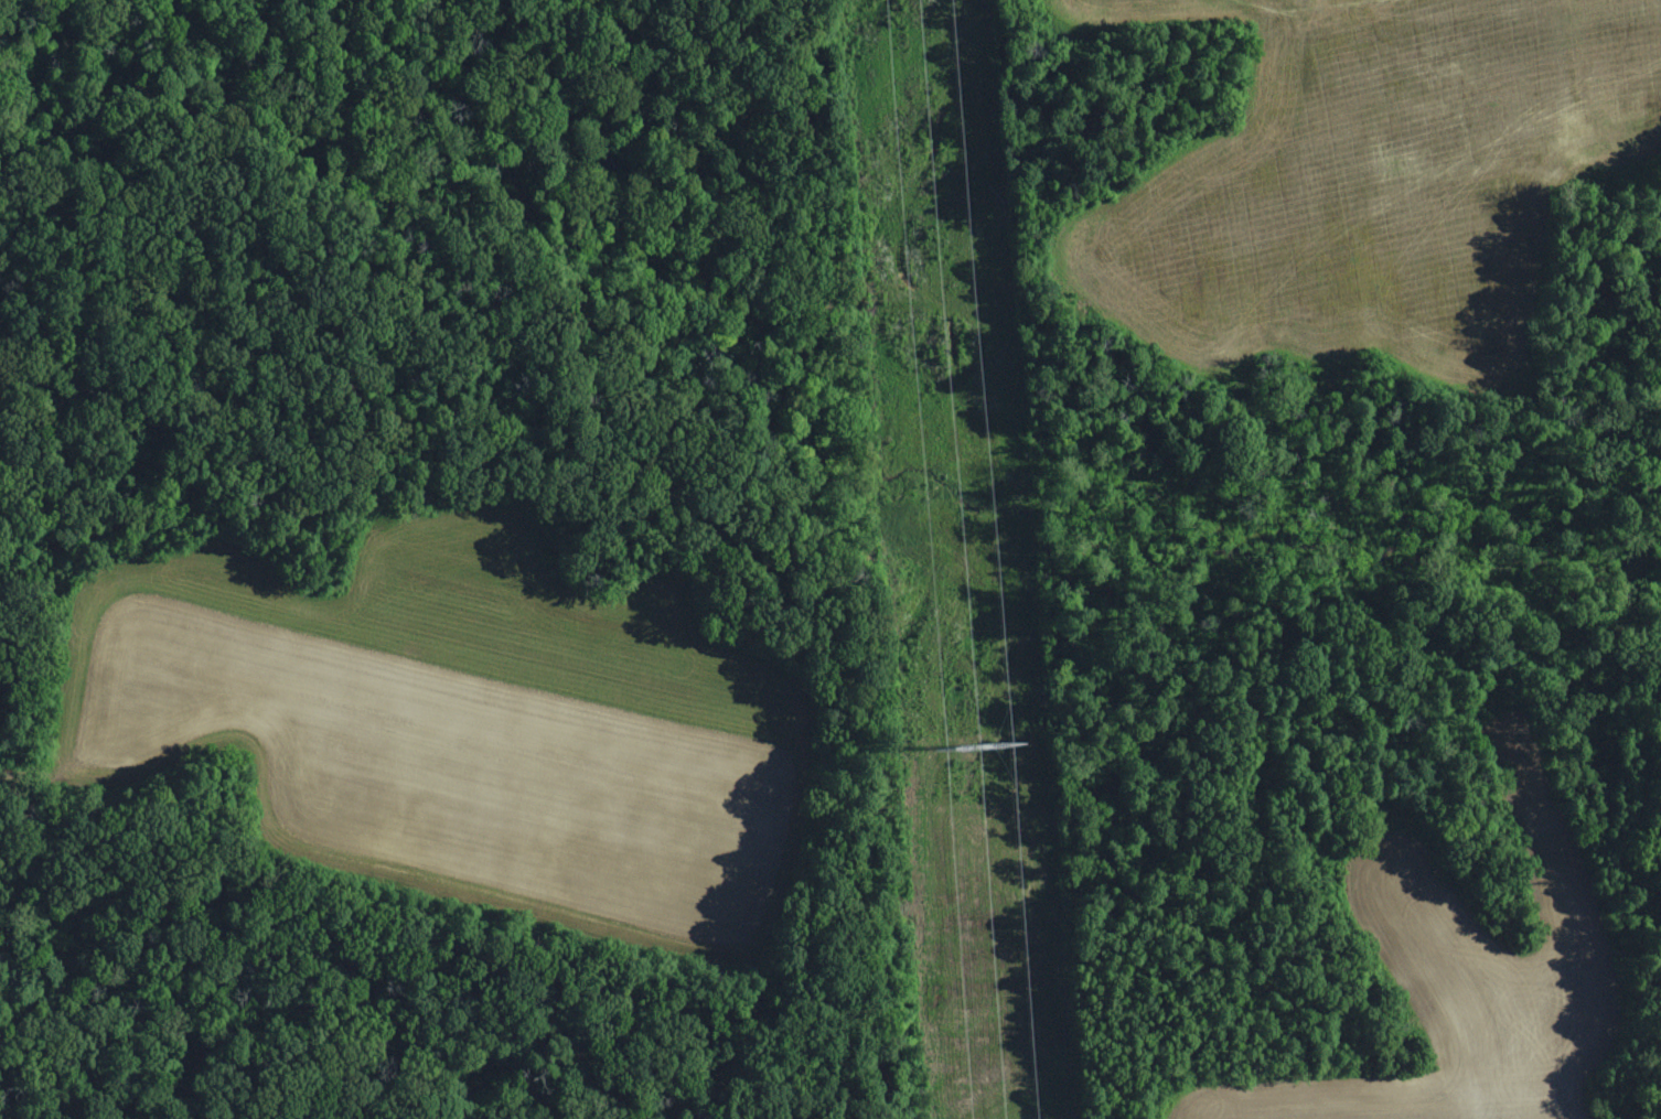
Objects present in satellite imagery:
power tower: (973, 746)

